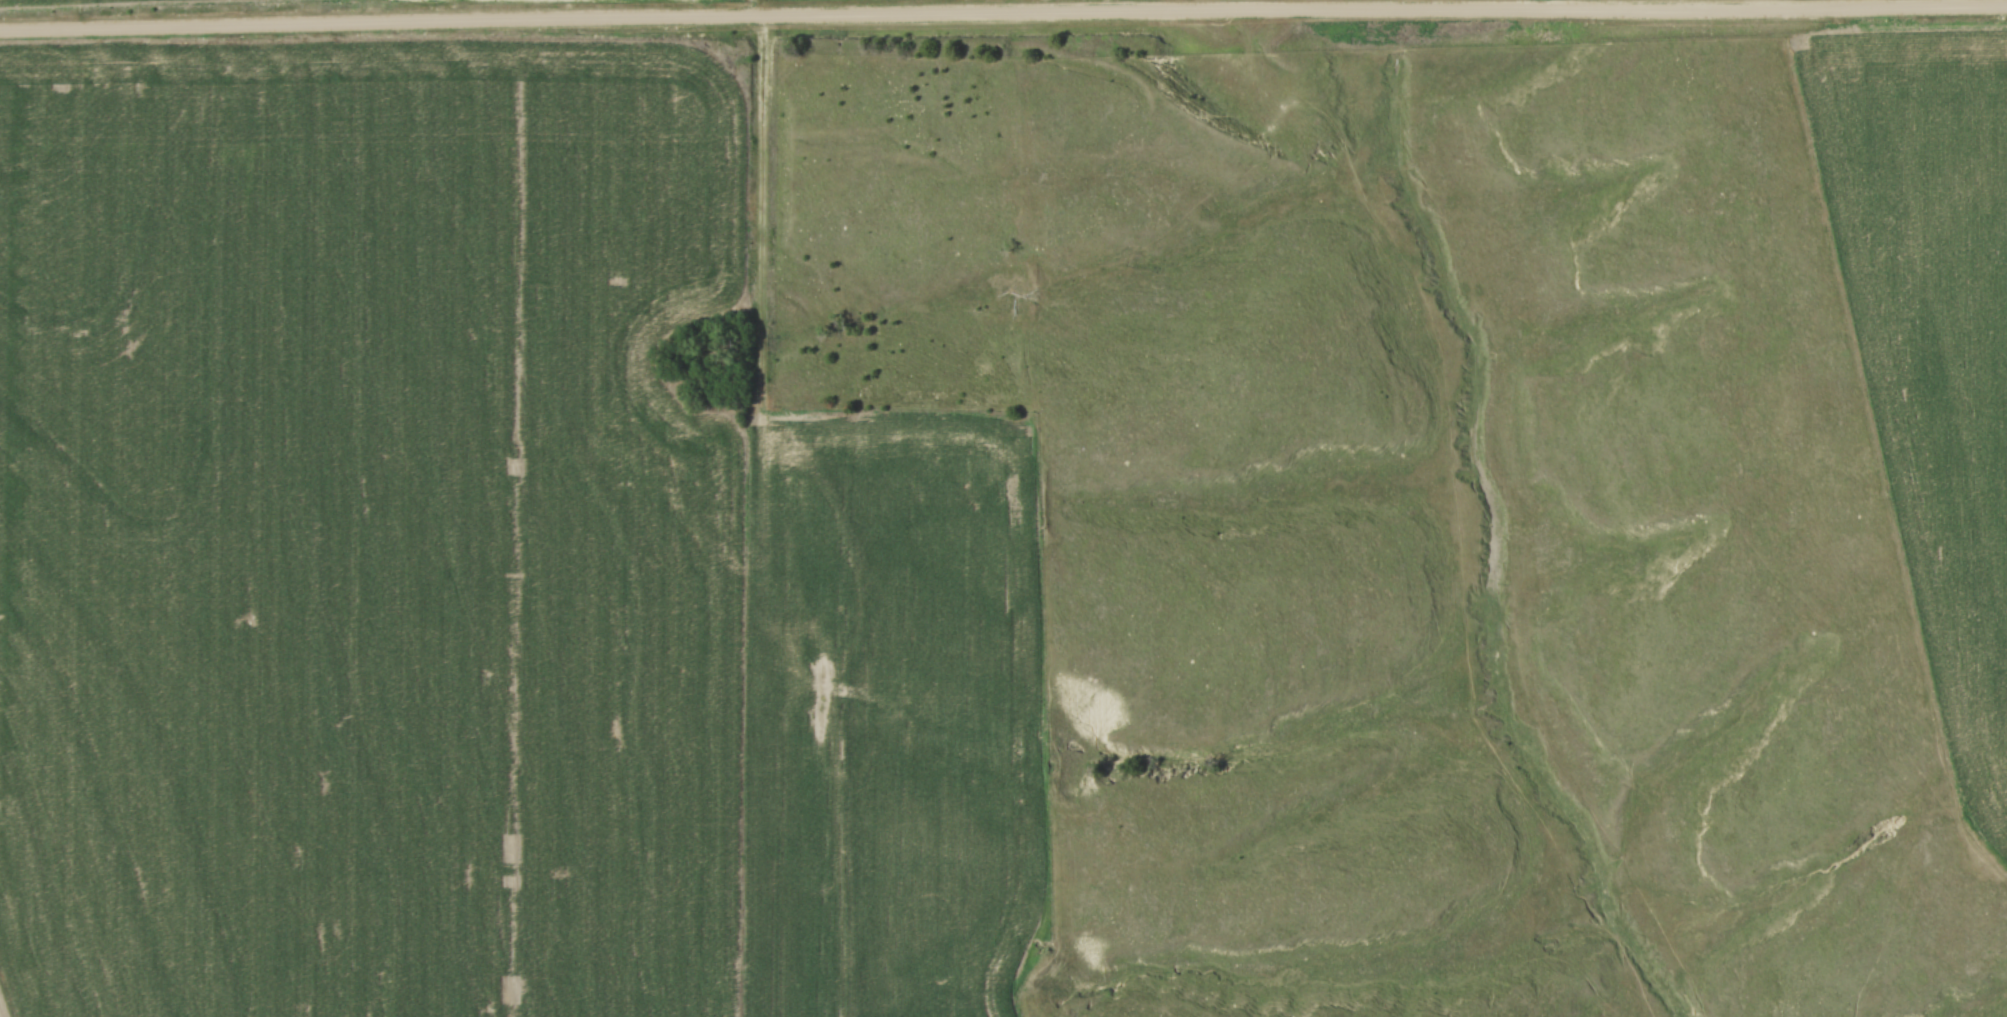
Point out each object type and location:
road: (1003, 9)
crop: (1932, 338)

